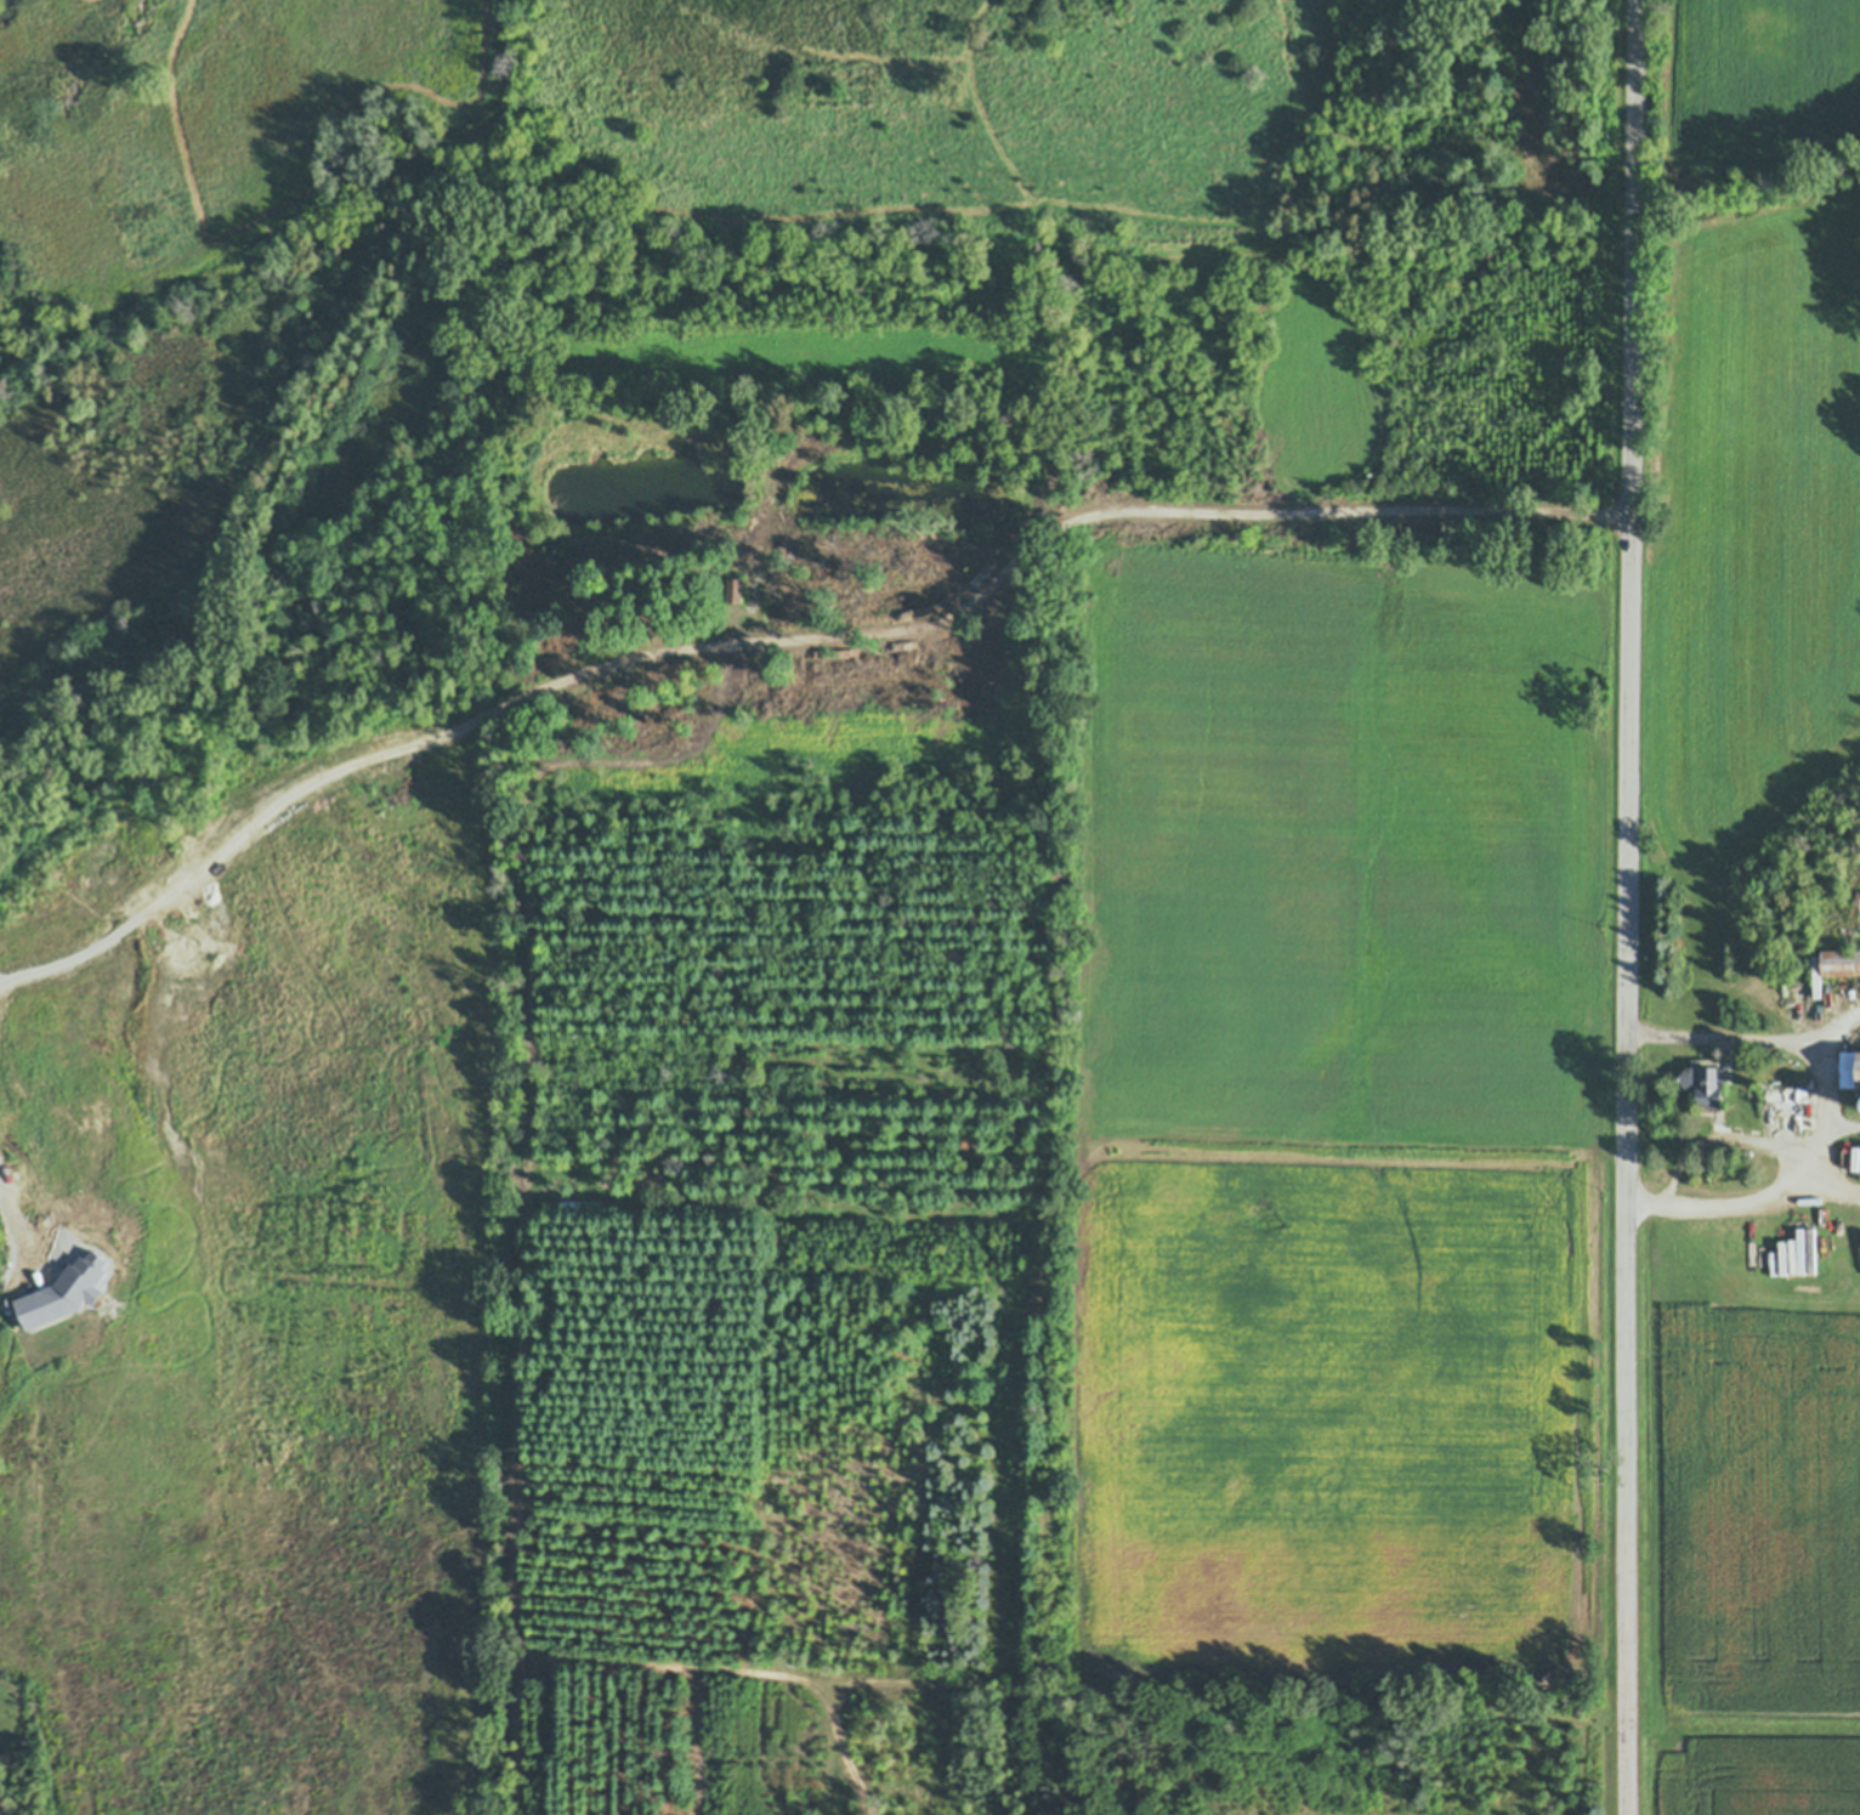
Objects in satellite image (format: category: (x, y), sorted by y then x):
road: (1168, 511)
building: (753, 586)
building: (732, 589)
building: (750, 716)
road: (1629, 907)
building: (1842, 962)
building: (1816, 975)
building: (1850, 1068)
building: (1726, 1076)
building: (1702, 1083)
building: (1788, 1101)
road: (1818, 1108)
building: (822, 1148)
crop: (372, 1168)
road: (1827, 1185)
building: (569, 1206)
building: (596, 1210)
building: (1811, 1253)
building: (507, 1660)
building: (623, 1671)
building: (507, 1675)
building: (840, 1705)

